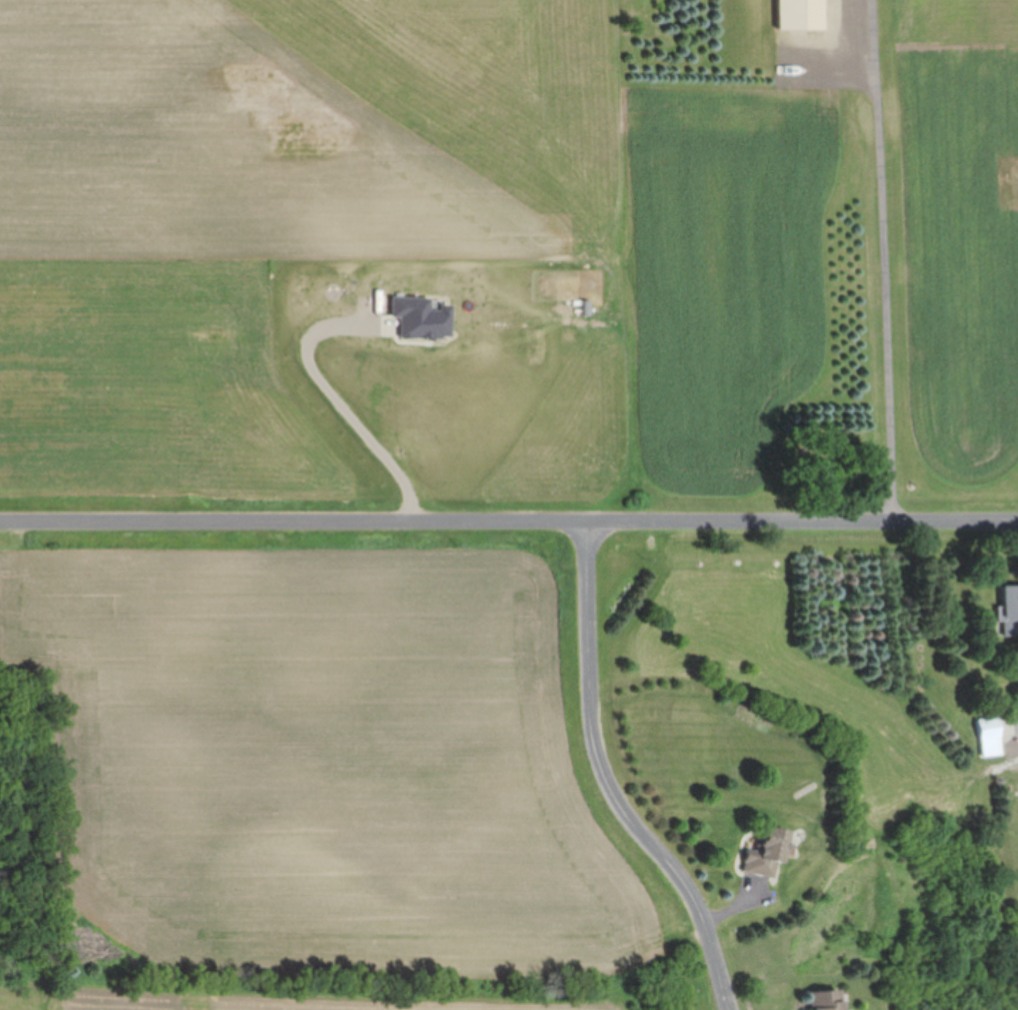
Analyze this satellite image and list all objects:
building: (804, 14)
road: (887, 259)
road: (344, 394)
road: (509, 516)
building: (1008, 609)
building: (985, 736)
road: (611, 778)
building: (763, 853)
building: (823, 999)

